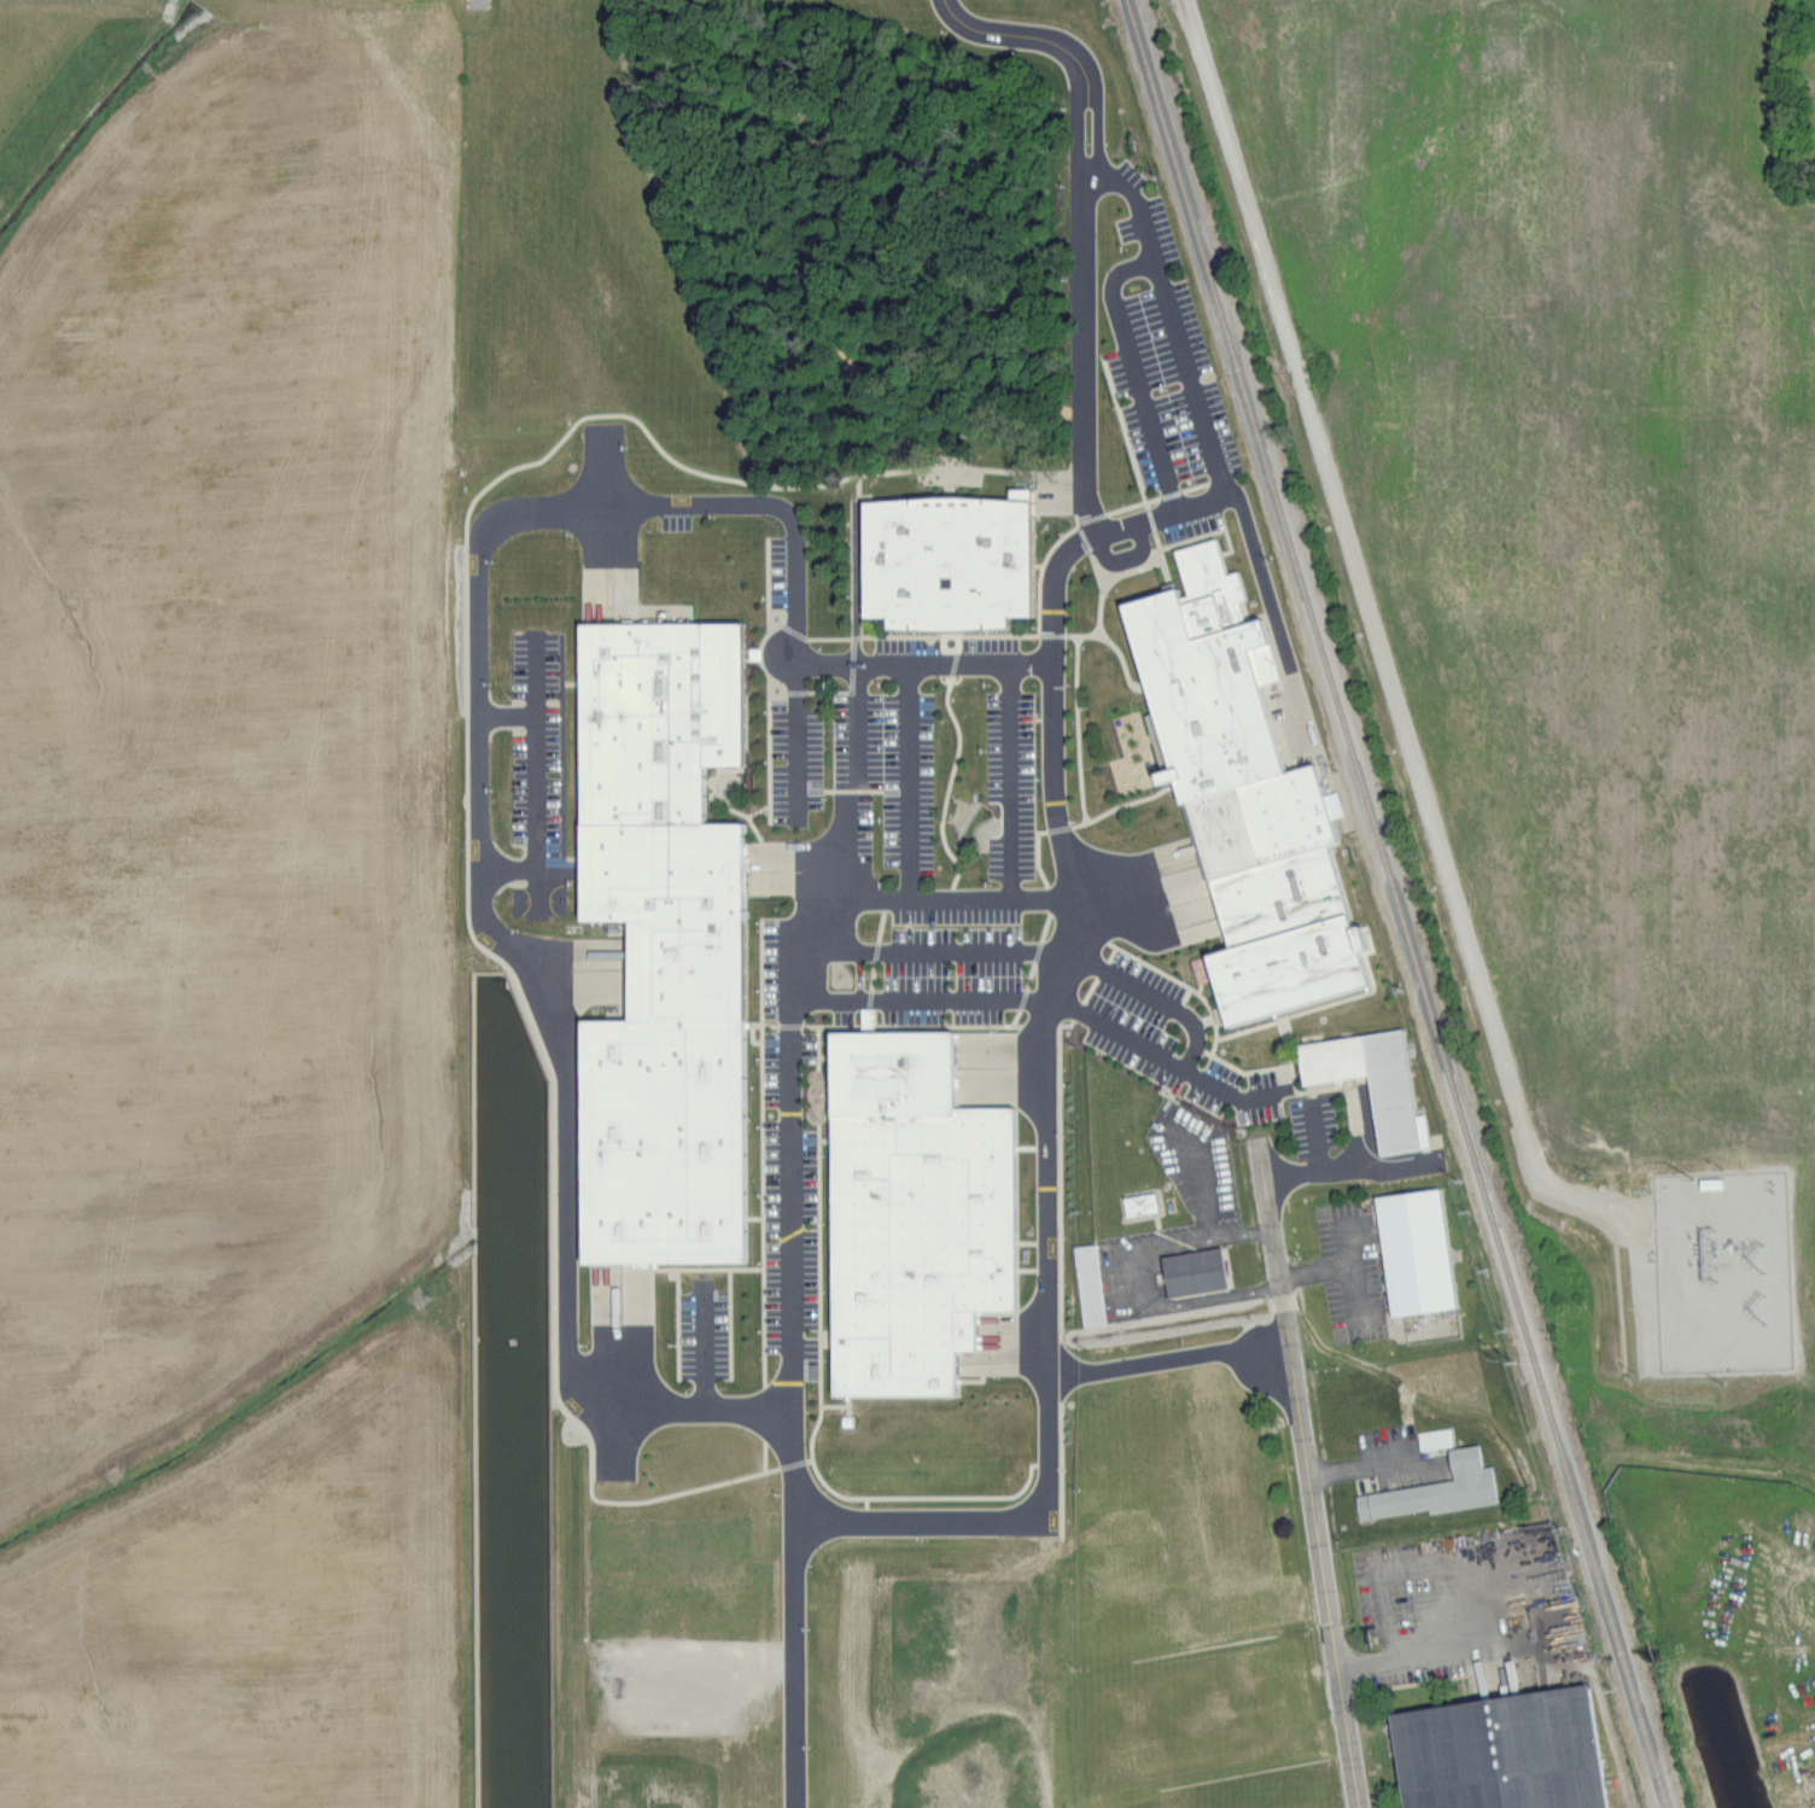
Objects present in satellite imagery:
road: (1125, 272)
road: (1174, 317)
road: (1144, 406)
road: (1089, 460)
road: (1142, 486)
road: (1145, 502)
road: (1154, 520)
road: (606, 526)
road: (793, 526)
road: (1207, 533)
building: (957, 562)
road: (1039, 564)
road: (1040, 572)
road: (1166, 572)
road: (859, 582)
road: (782, 612)
road: (1277, 623)
road: (950, 636)
road: (1060, 636)
road: (815, 637)
road: (1078, 658)
road: (1124, 661)
road: (770, 677)
road: (786, 689)
road: (846, 692)
road: (508, 713)
building: (1226, 716)
road: (800, 742)
parking lot: (927, 762)
building: (670, 772)
road: (535, 776)
road: (911, 783)
road: (1012, 783)
road: (951, 785)
road: (852, 789)
road: (860, 798)
road: (1098, 815)
road: (805, 870)
road: (1142, 881)
crop: (218, 886)
railway: (1397, 904)
road: (1172, 905)
road: (828, 915)
road: (473, 934)
road: (822, 949)
road: (979, 950)
road: (877, 963)
road: (1033, 968)
road: (1079, 973)
road: (803, 1002)
road: (929, 1002)
road: (560, 1014)
building: (868, 1016)
road: (783, 1023)
road: (912, 1025)
road: (753, 1030)
road: (822, 1043)
building: (1361, 1058)
road: (1306, 1091)
road: (764, 1093)
building: (672, 1104)
road: (794, 1149)
road: (1313, 1157)
building: (1710, 1182)
road: (1204, 1197)
building: (912, 1212)
road: (1061, 1237)
parking lot: (1180, 1240)
building: (1425, 1254)
road: (1049, 1260)
road: (705, 1268)
power substation: (1722, 1270)
parking lot: (1355, 1271)
building: (1204, 1273)
road: (1319, 1275)
road: (1356, 1279)
road: (1139, 1282)
building: (1089, 1284)
road: (821, 1291)
road: (766, 1308)
road: (1169, 1354)
road: (1295, 1375)
road: (840, 1405)
building: (1442, 1441)
road: (764, 1457)
parking lot: (1391, 1464)
road: (1359, 1472)
building: (1442, 1493)
road: (868, 1501)
road: (871, 1521)
road: (1440, 1562)
road: (1477, 1592)
parking lot: (1471, 1621)
road: (795, 1658)
road: (1469, 1669)
building: (1516, 1755)

